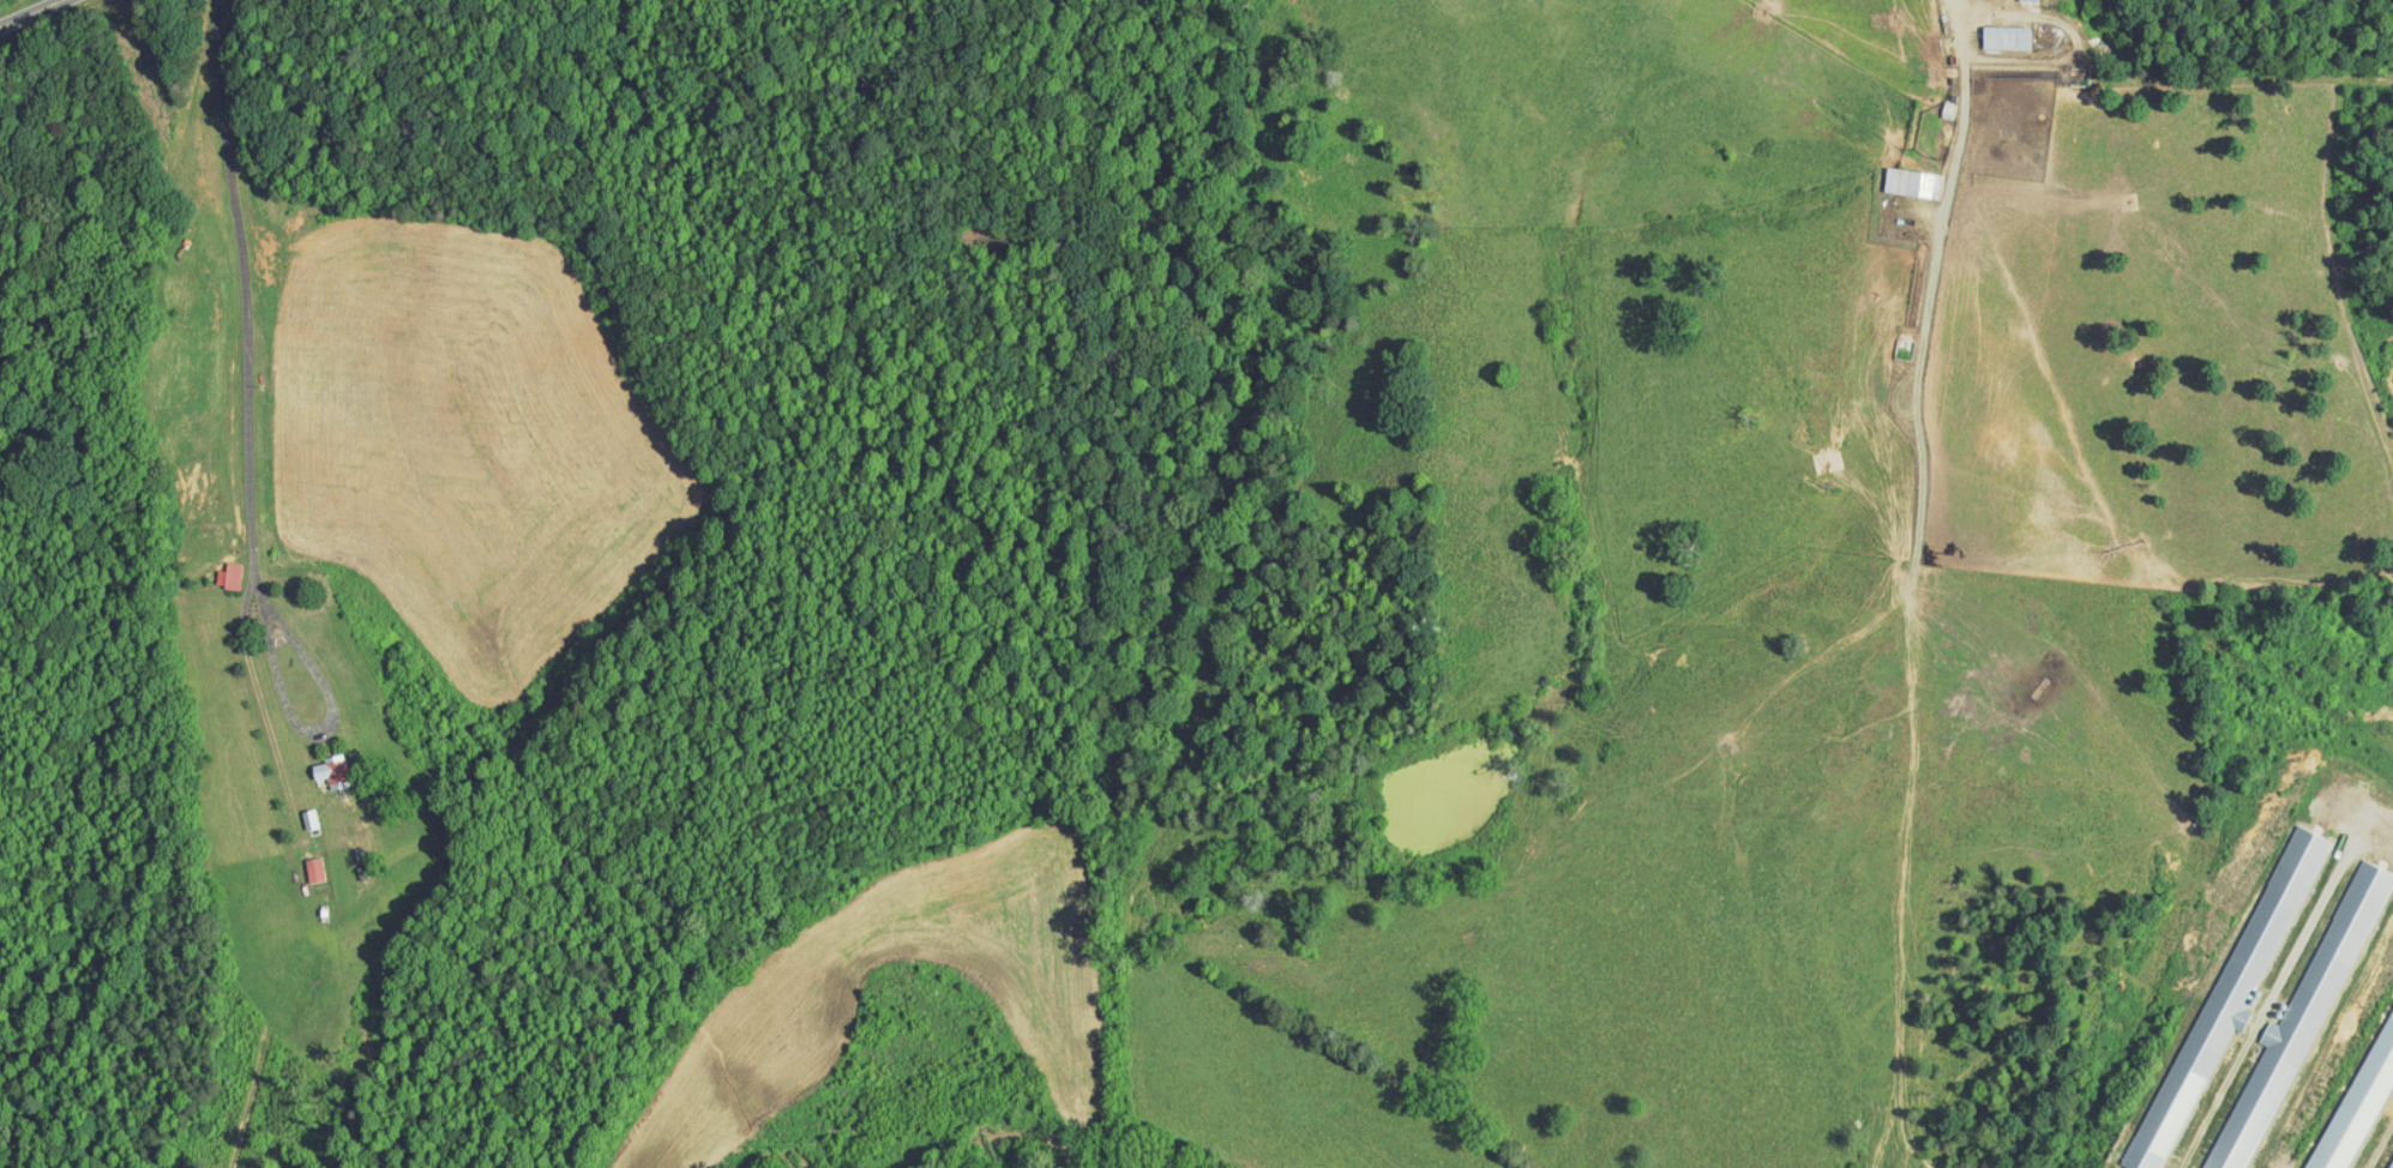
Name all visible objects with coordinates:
road: (31, 13)
road: (1965, 13)
building: (1991, 30)
building: (1899, 175)
road: (246, 297)
road: (1910, 560)
building: (215, 567)
road: (321, 729)
building: (300, 861)
building: (2219, 976)
building: (2275, 1026)
building: (2353, 1080)
building: (2385, 1151)

